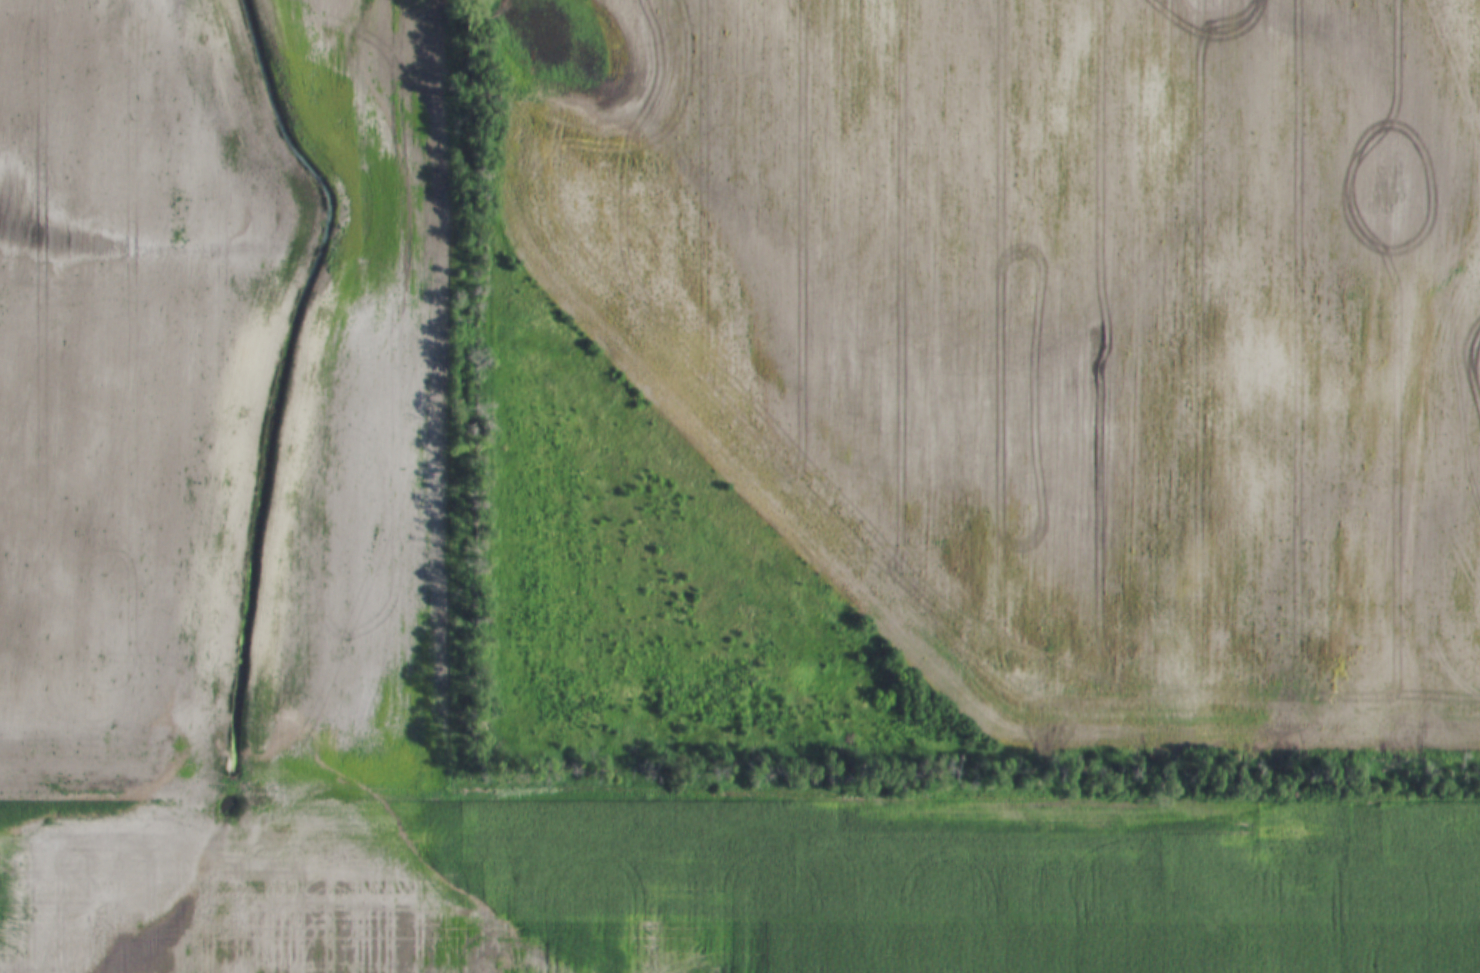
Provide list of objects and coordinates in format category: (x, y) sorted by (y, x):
river: (52, 943)
river: (265, 943)

